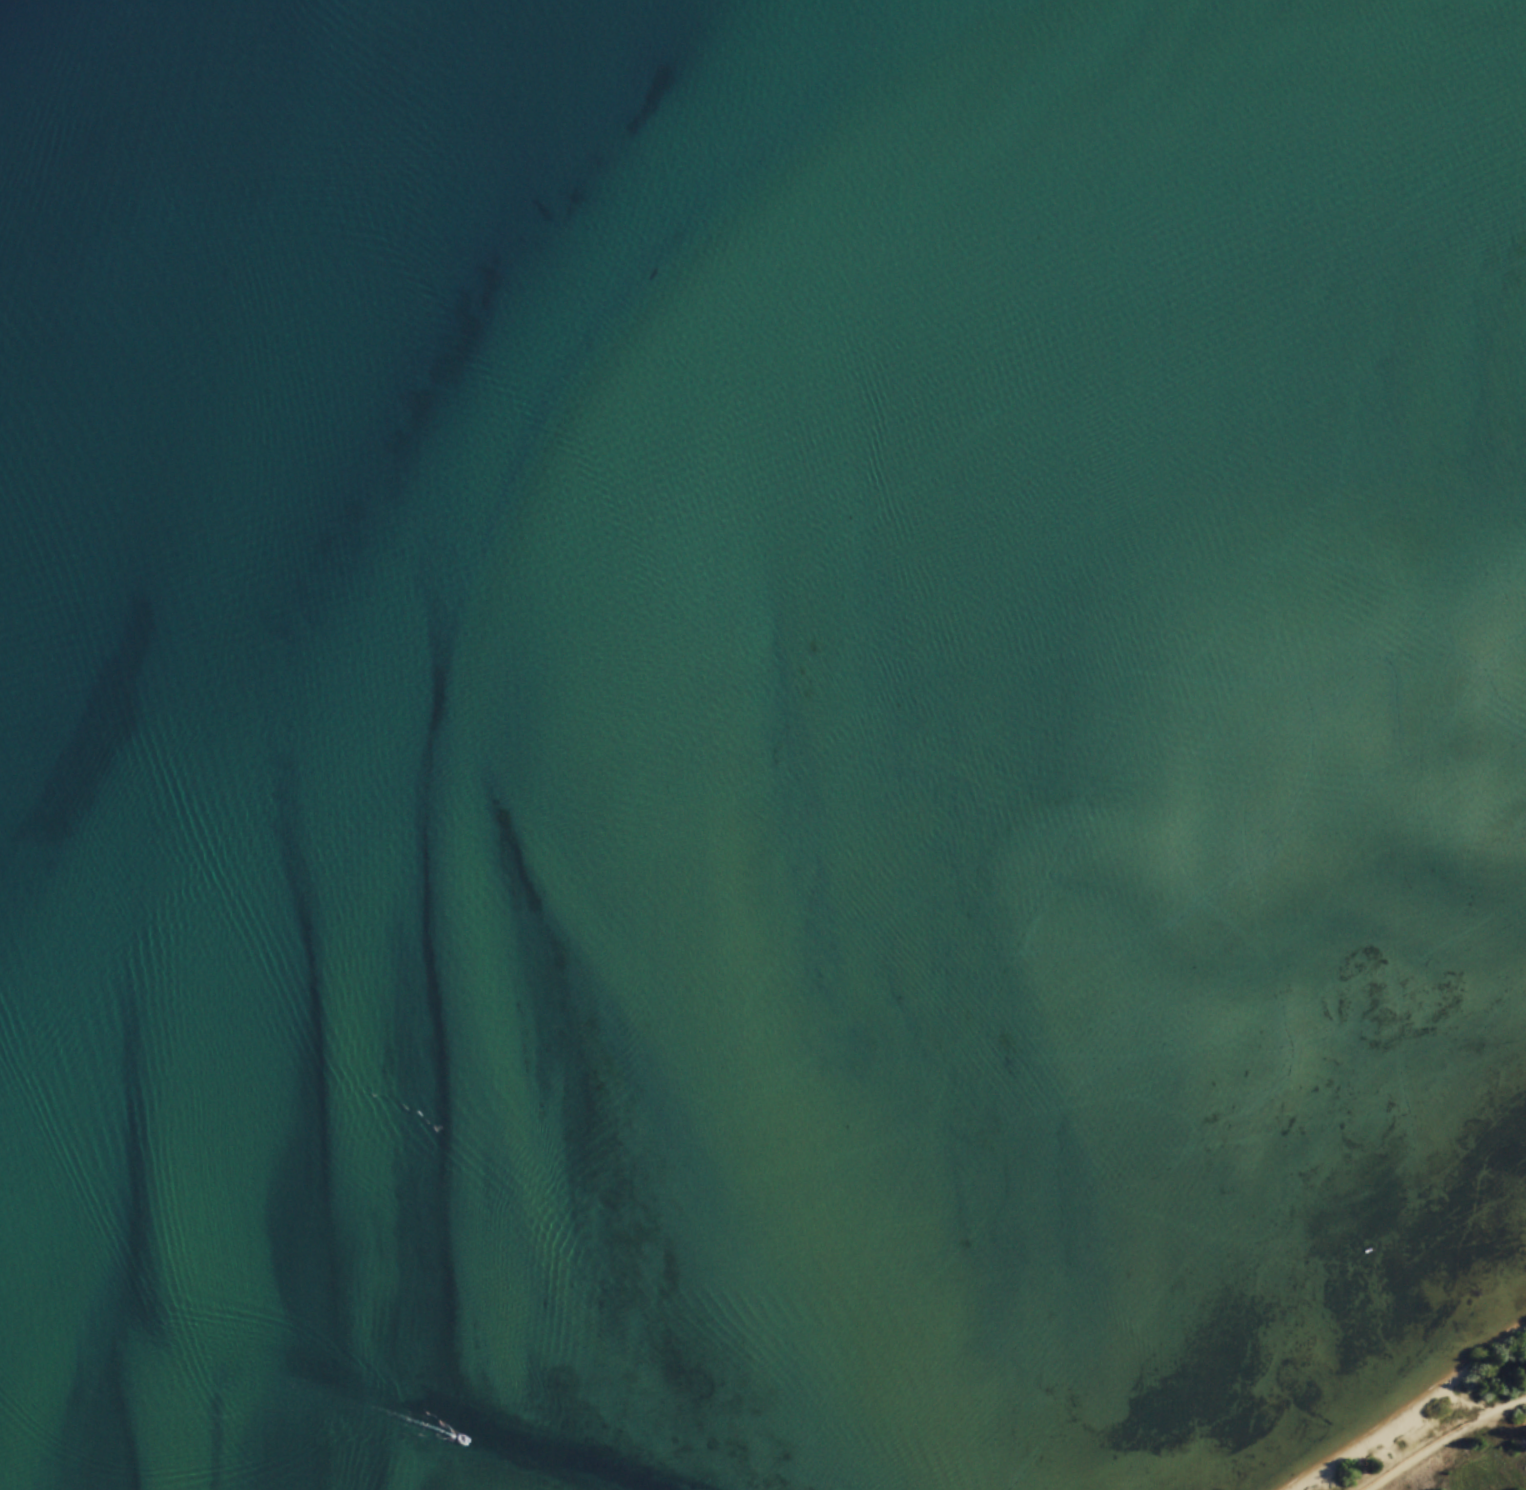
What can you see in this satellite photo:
road: (1446, 1441)

